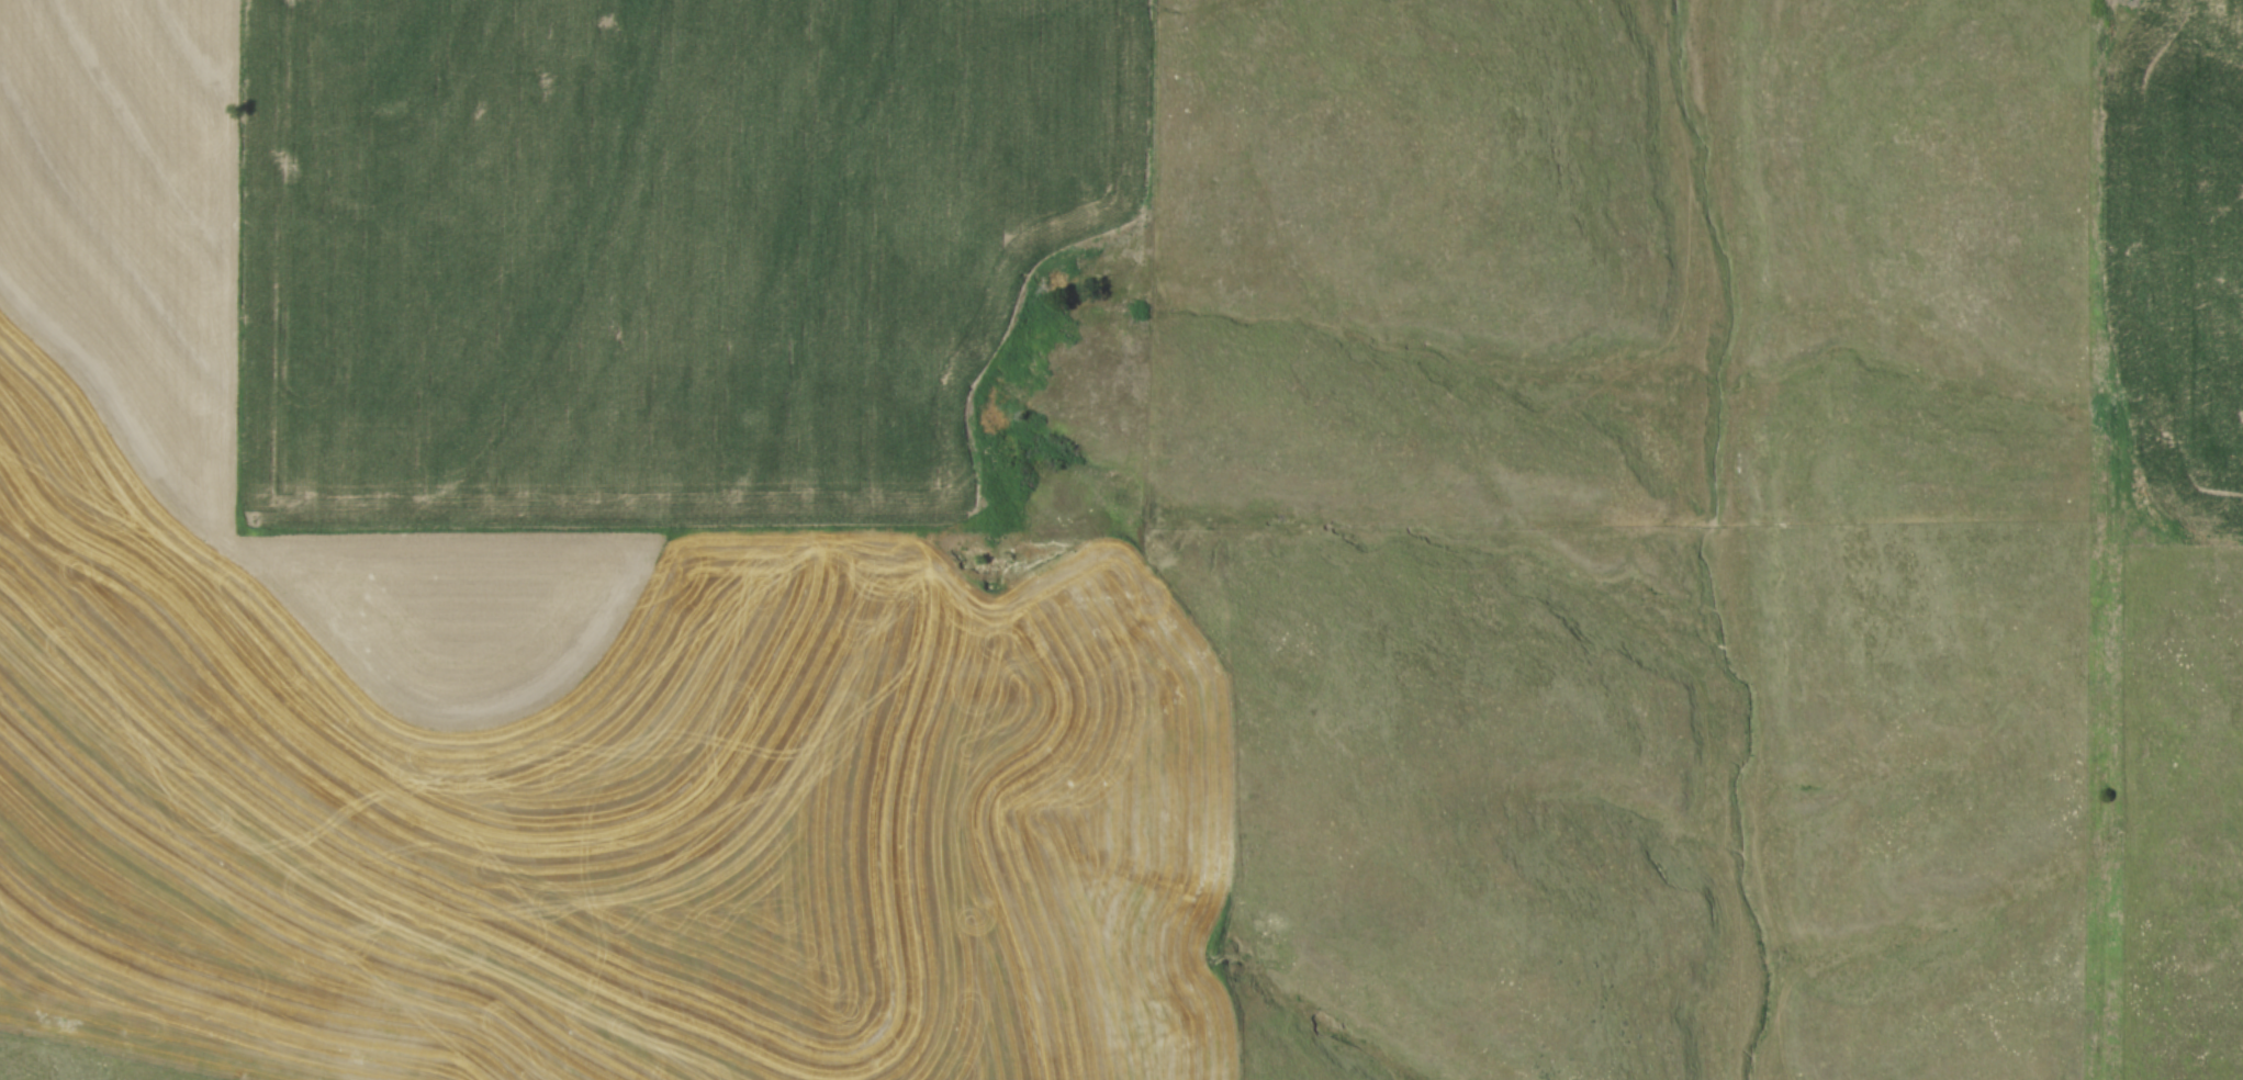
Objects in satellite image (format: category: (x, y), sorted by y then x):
crop: (2177, 258)

